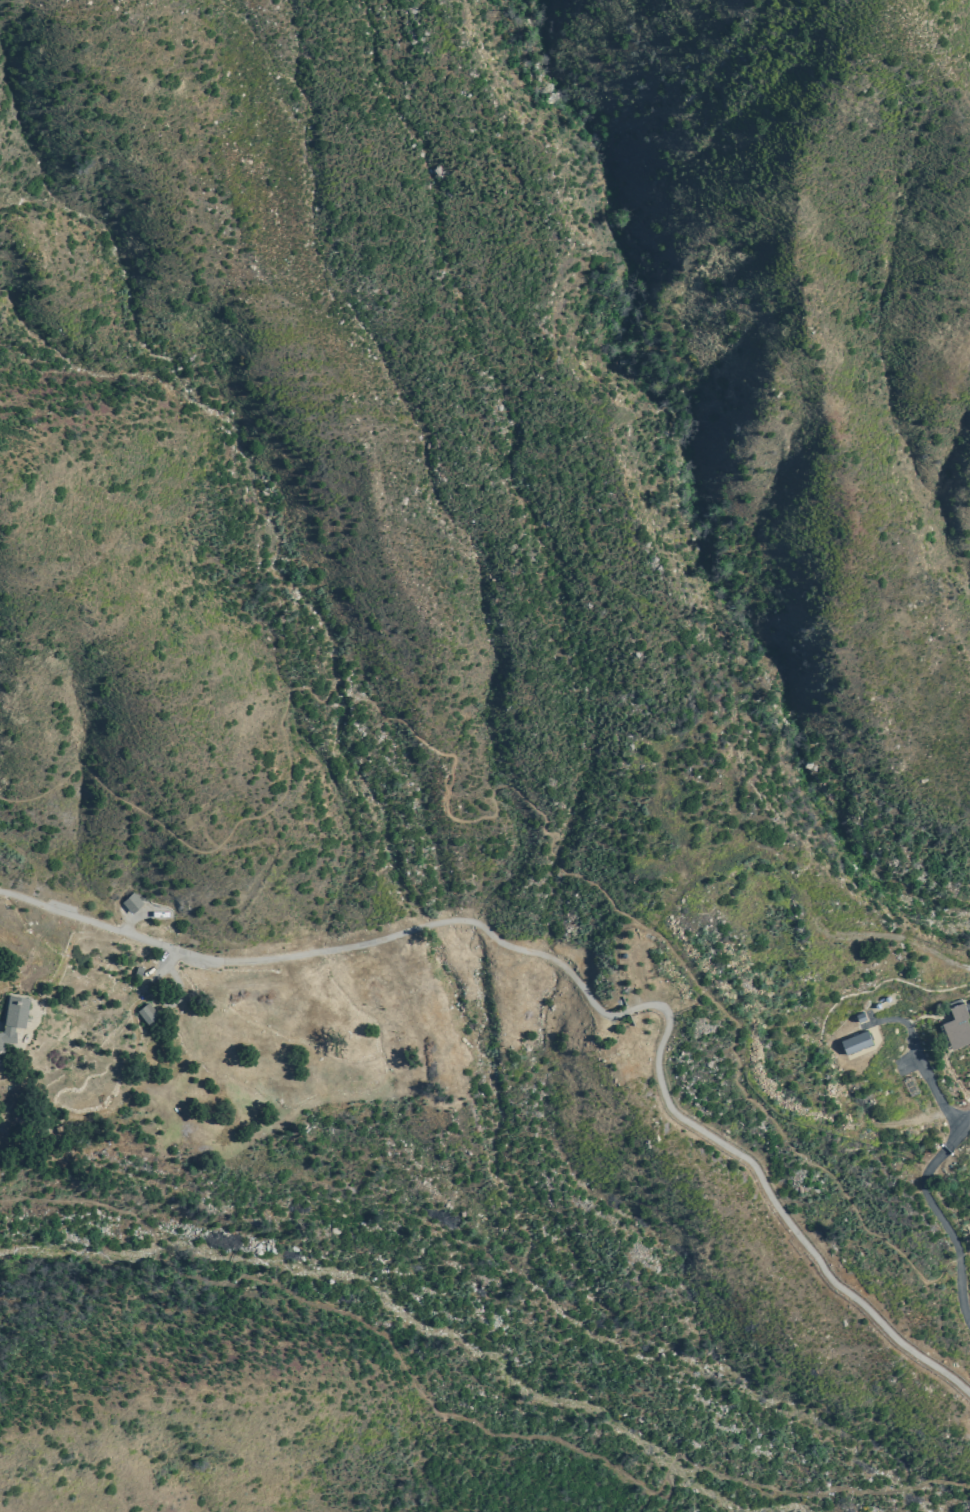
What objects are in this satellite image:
road: (602, 417)
road: (512, 790)
road: (785, 850)
building: (131, 902)
road: (336, 951)
building: (623, 954)
storage tank: (623, 954)
building: (138, 970)
building: (886, 998)
storage tank: (886, 998)
building: (877, 1004)
storage tank: (877, 1004)
building: (144, 1011)
building: (11, 1016)
building: (861, 1018)
building: (957, 1025)
building: (856, 1041)
road: (916, 1048)
road: (773, 1206)
road: (937, 1210)
road: (463, 1418)
road: (644, 1499)

